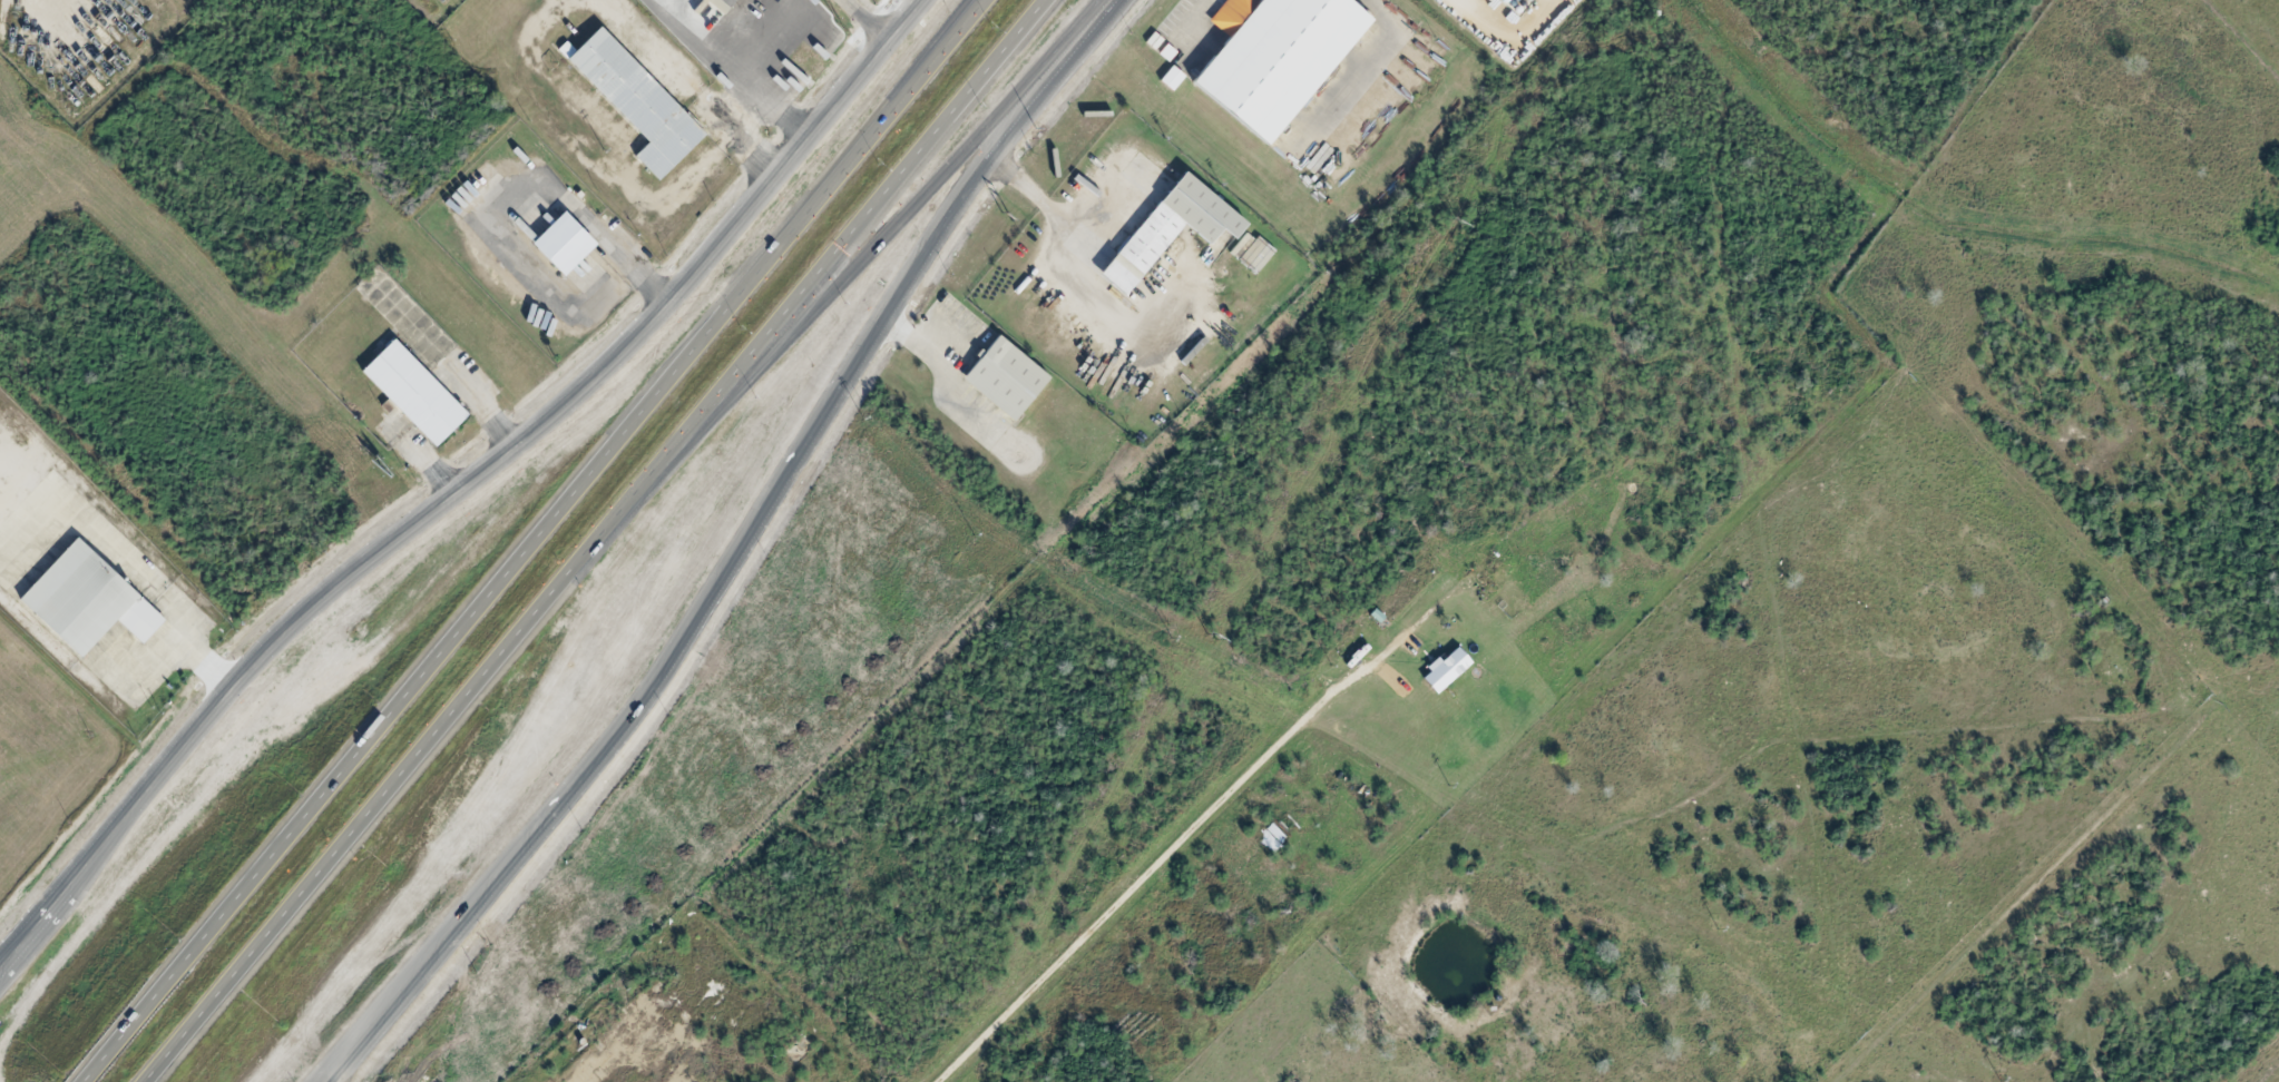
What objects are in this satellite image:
building: (718, 4)
road: (880, 16)
building: (1277, 58)
building: (1171, 78)
road: (916, 81)
building: (643, 101)
road: (853, 159)
road: (911, 208)
power tower: (1455, 222)
building: (1168, 229)
road: (863, 233)
building: (563, 246)
building: (1251, 252)
building: (1004, 378)
building: (412, 393)
road: (575, 396)
road: (806, 450)
building: (84, 594)
power tower: (1210, 637)
building: (1444, 670)
road: (399, 702)
road: (408, 771)
road: (90, 857)
road: (1131, 888)
road: (402, 988)

